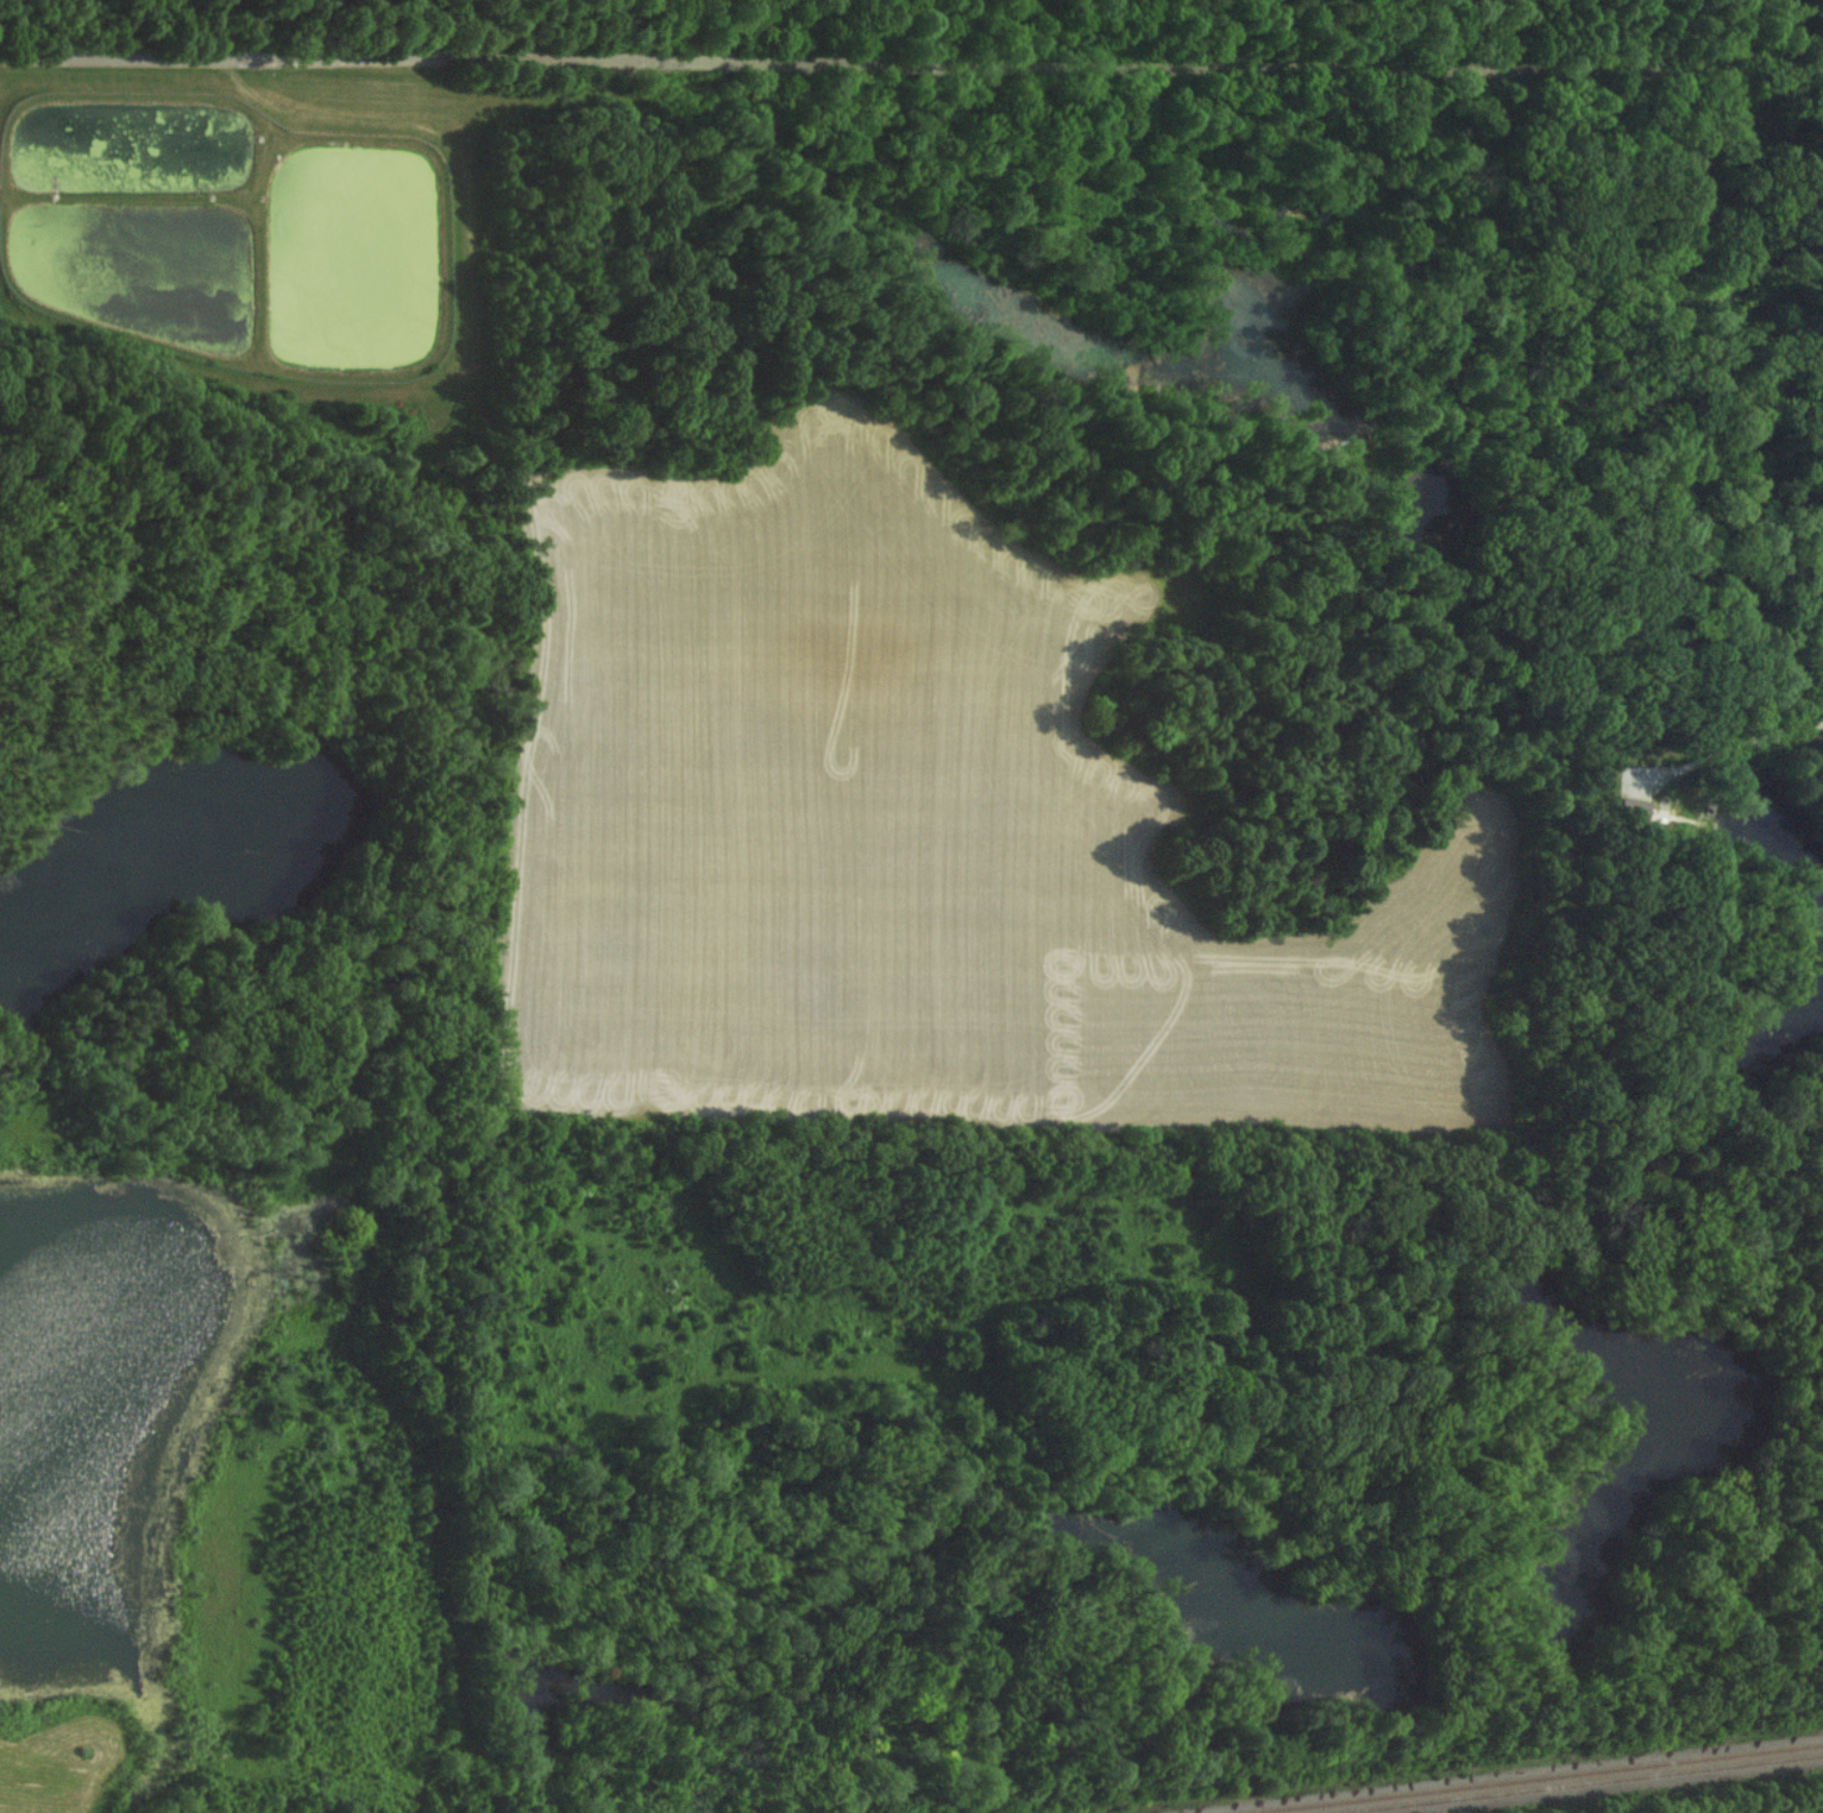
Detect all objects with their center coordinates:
road: (911, 63)
road: (1736, 749)
railway: (1529, 1779)
railway: (1576, 1783)

